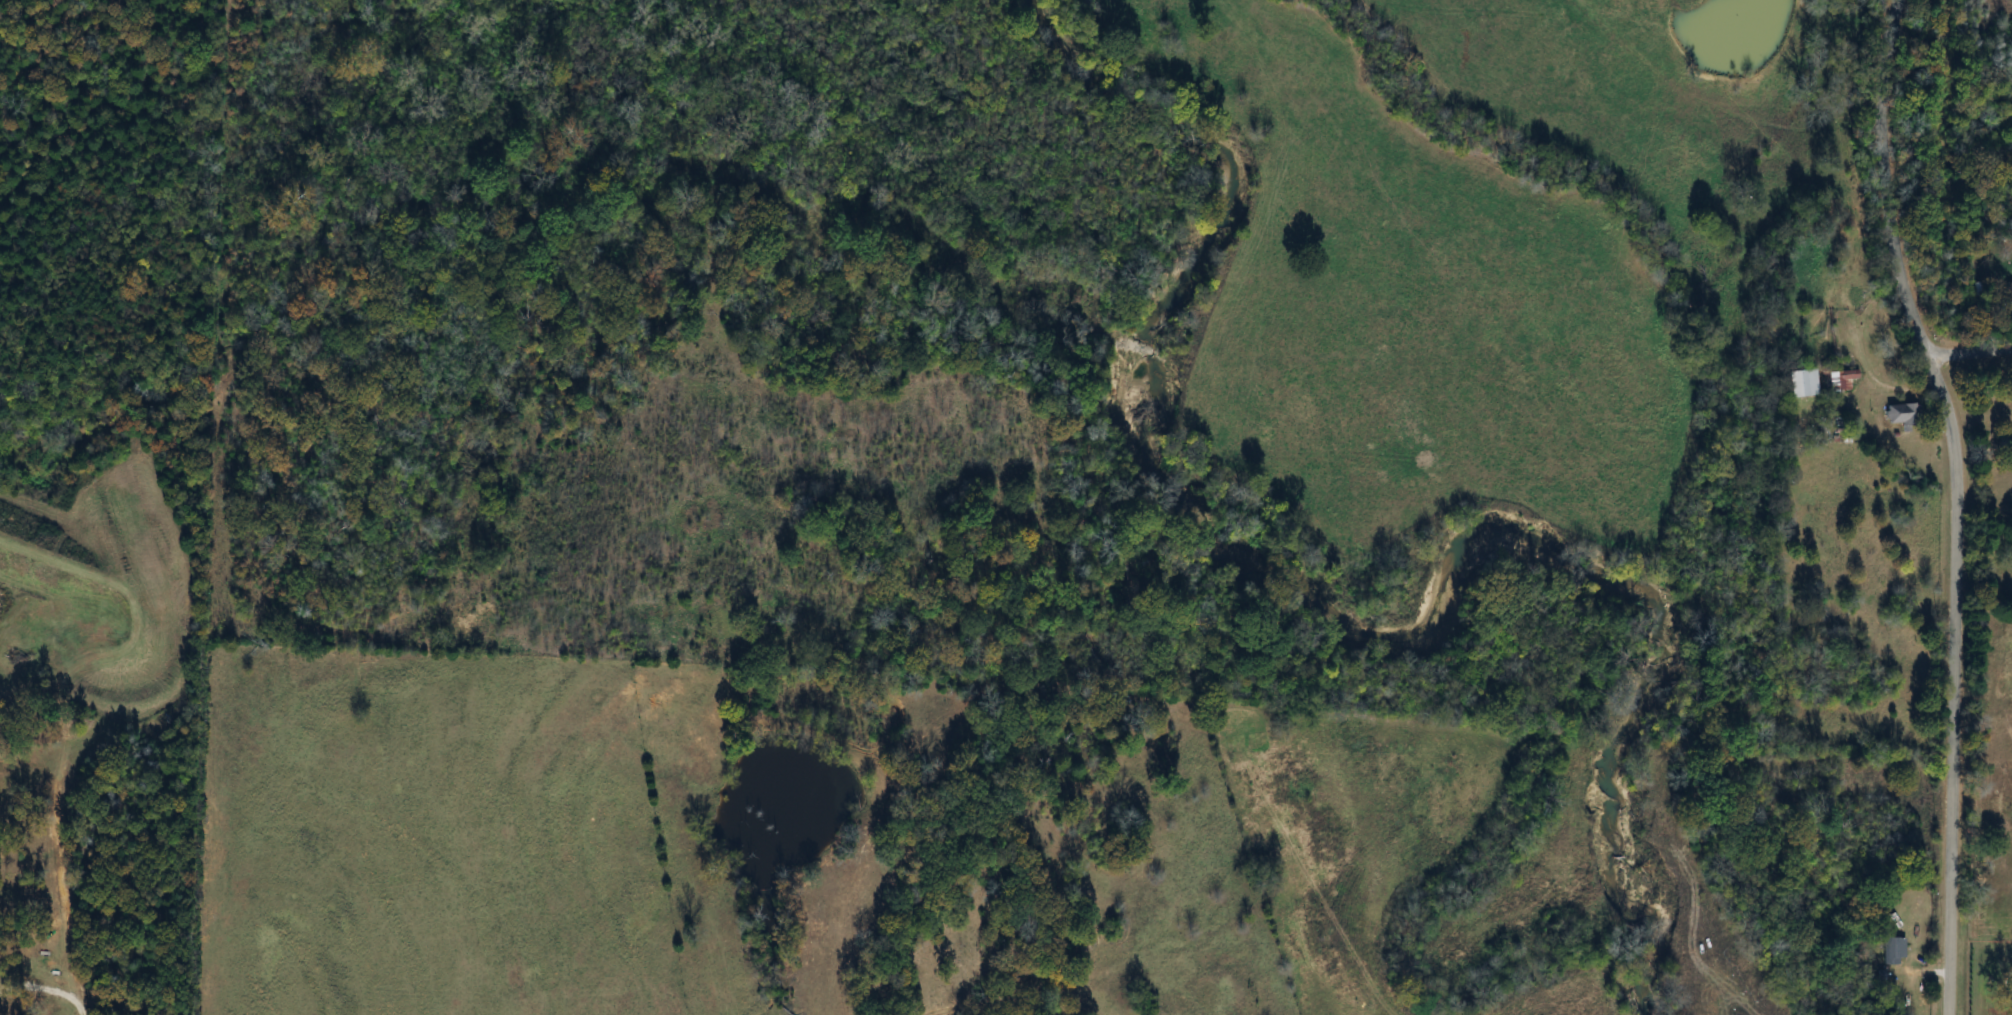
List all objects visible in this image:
building: (2009, 289)
road: (1970, 354)
building: (1841, 382)
building: (1800, 384)
building: (1902, 415)
road: (1956, 501)
building: (1890, 952)
road: (48, 988)

